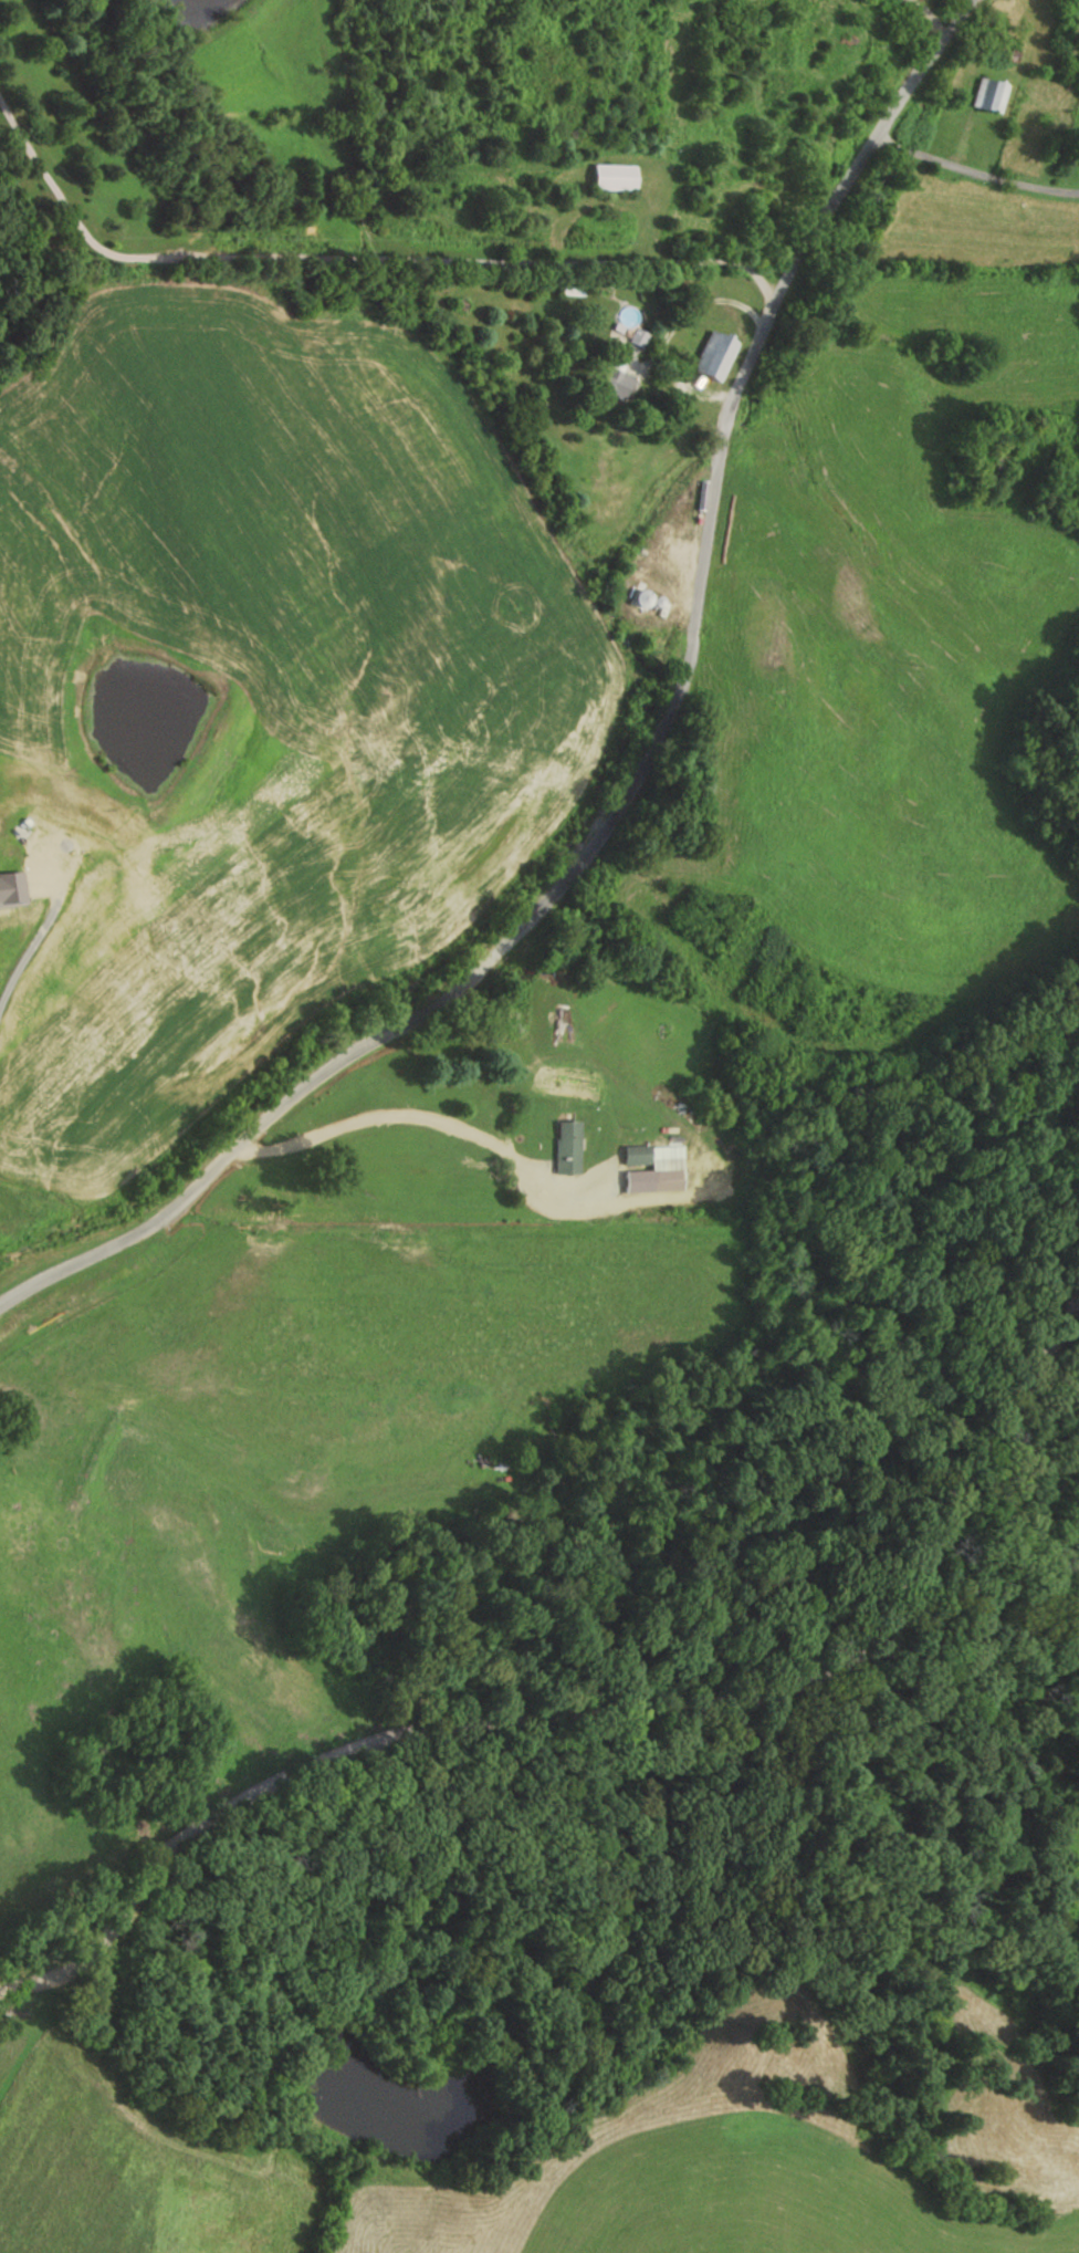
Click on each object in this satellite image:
road: (929, 14)
building: (987, 98)
building: (1078, 137)
building: (608, 178)
road: (358, 259)
building: (719, 353)
road: (643, 772)
road: (33, 937)
road: (390, 1116)
building: (568, 1147)
building: (643, 1171)
road: (599, 1723)

